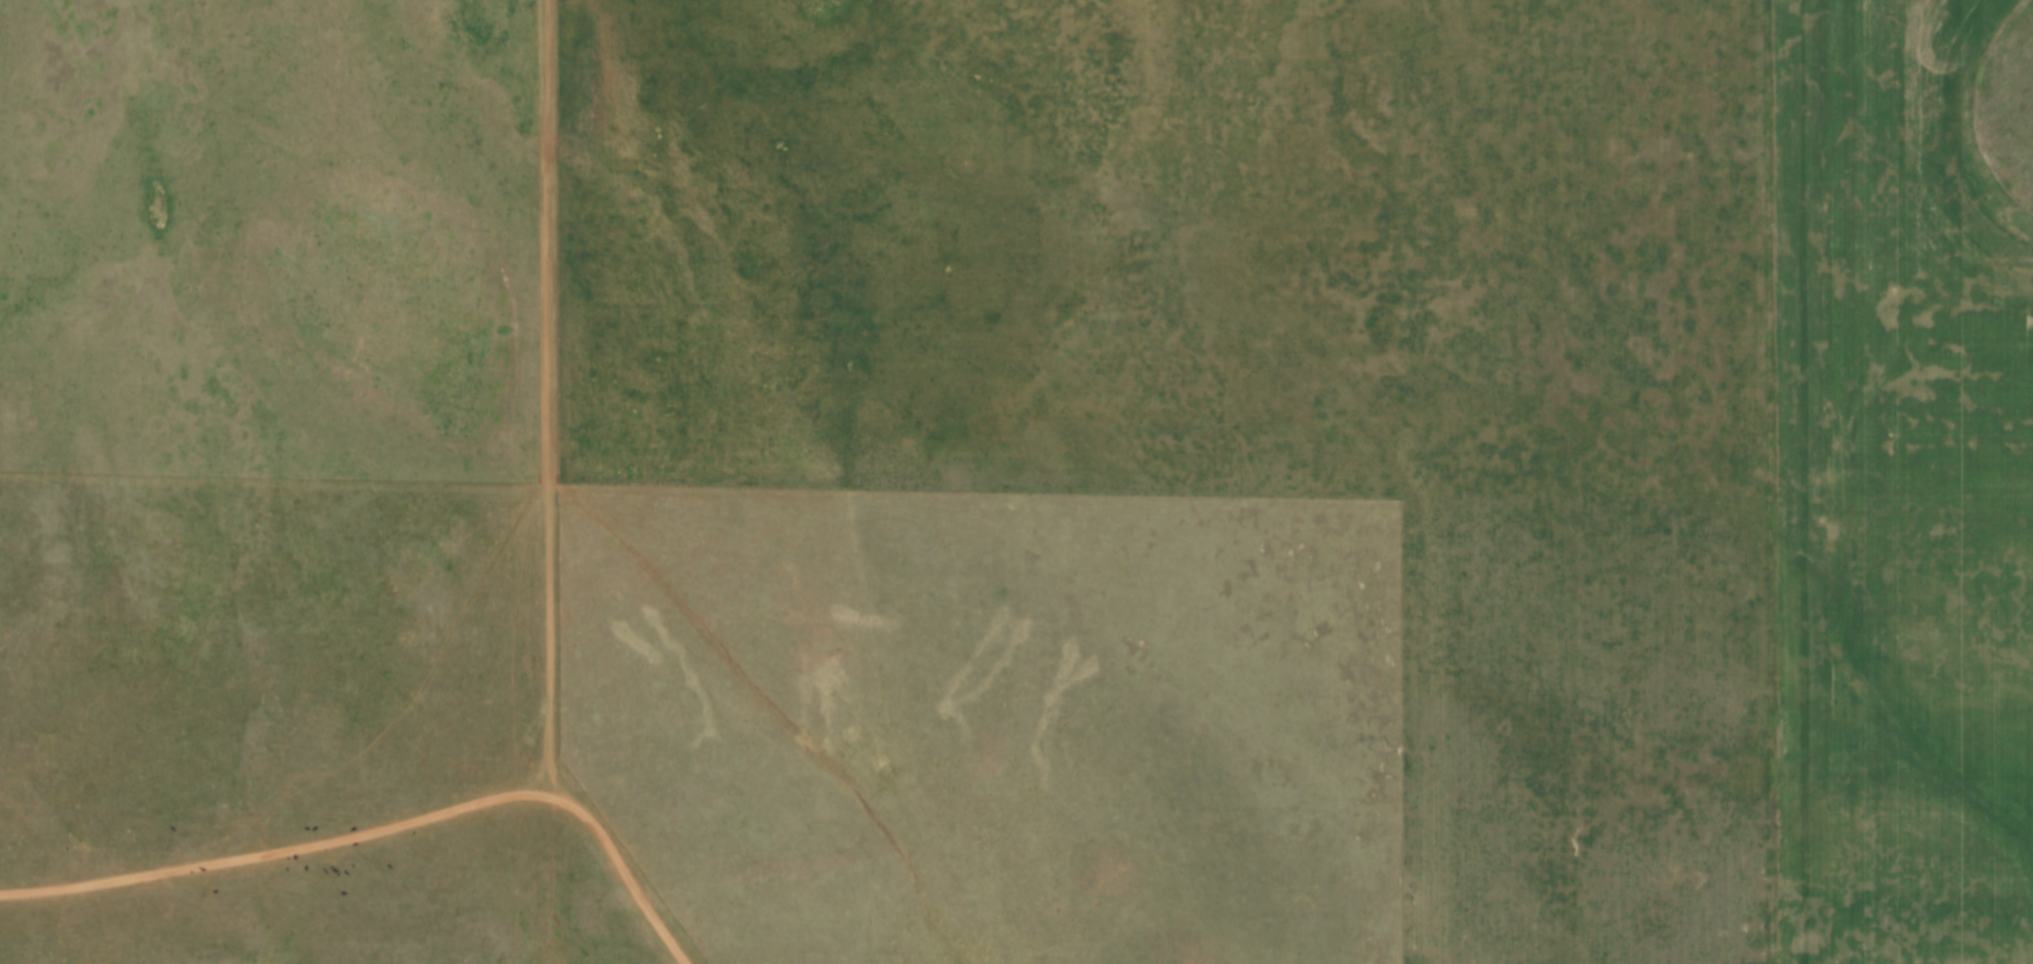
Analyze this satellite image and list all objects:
road: (549, 411)
road: (381, 831)

